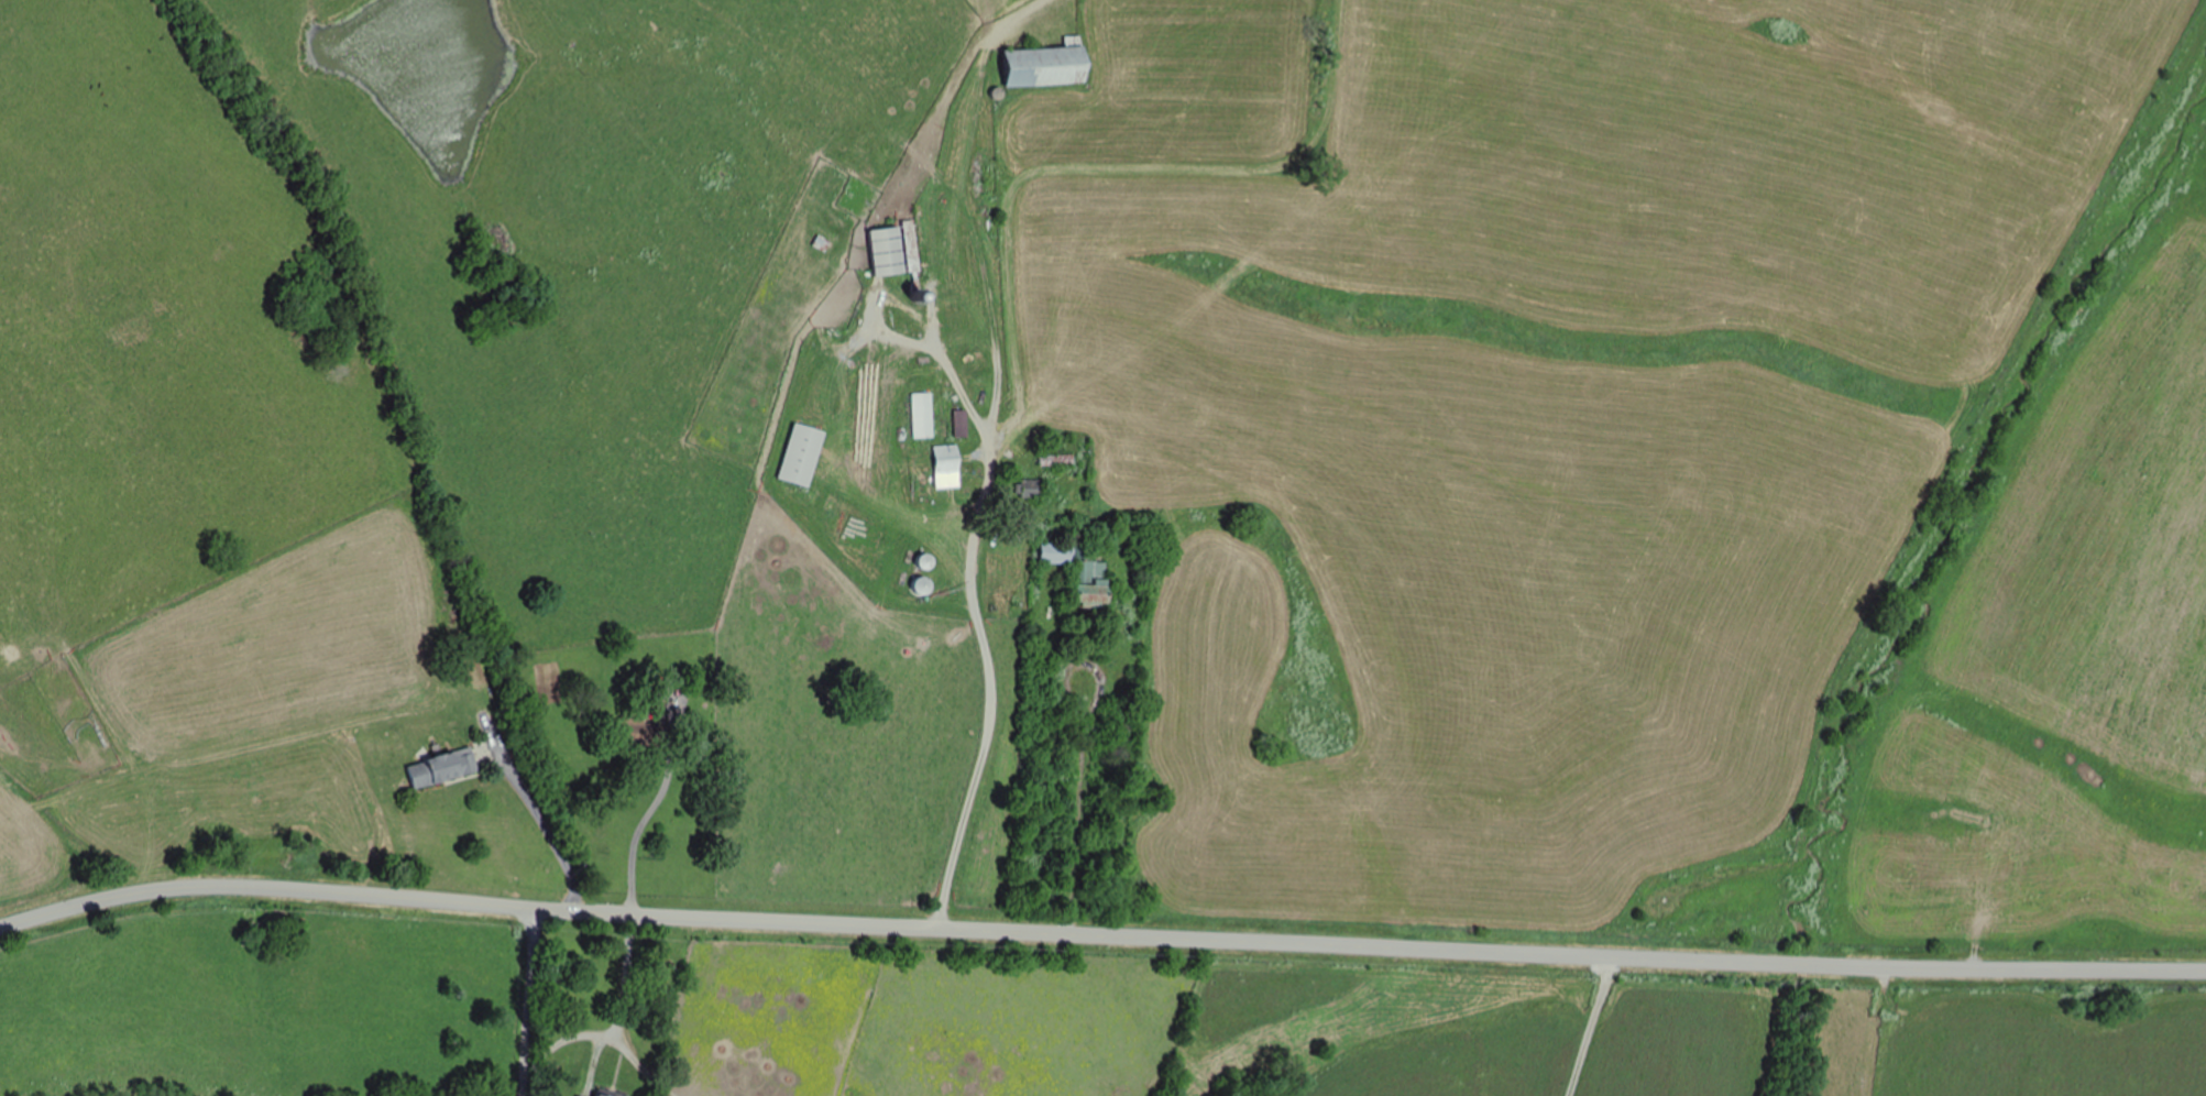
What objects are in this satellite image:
building: (1047, 65)
building: (896, 250)
building: (924, 416)
building: (1023, 423)
building: (803, 454)
building: (950, 459)
building: (1055, 460)
building: (1033, 489)
building: (1084, 573)
road: (1066, 684)
building: (445, 768)
road: (1133, 810)
road: (643, 815)
road: (1099, 934)
road: (558, 1002)
road: (671, 1016)
road: (1978, 1032)
building: (608, 1094)

